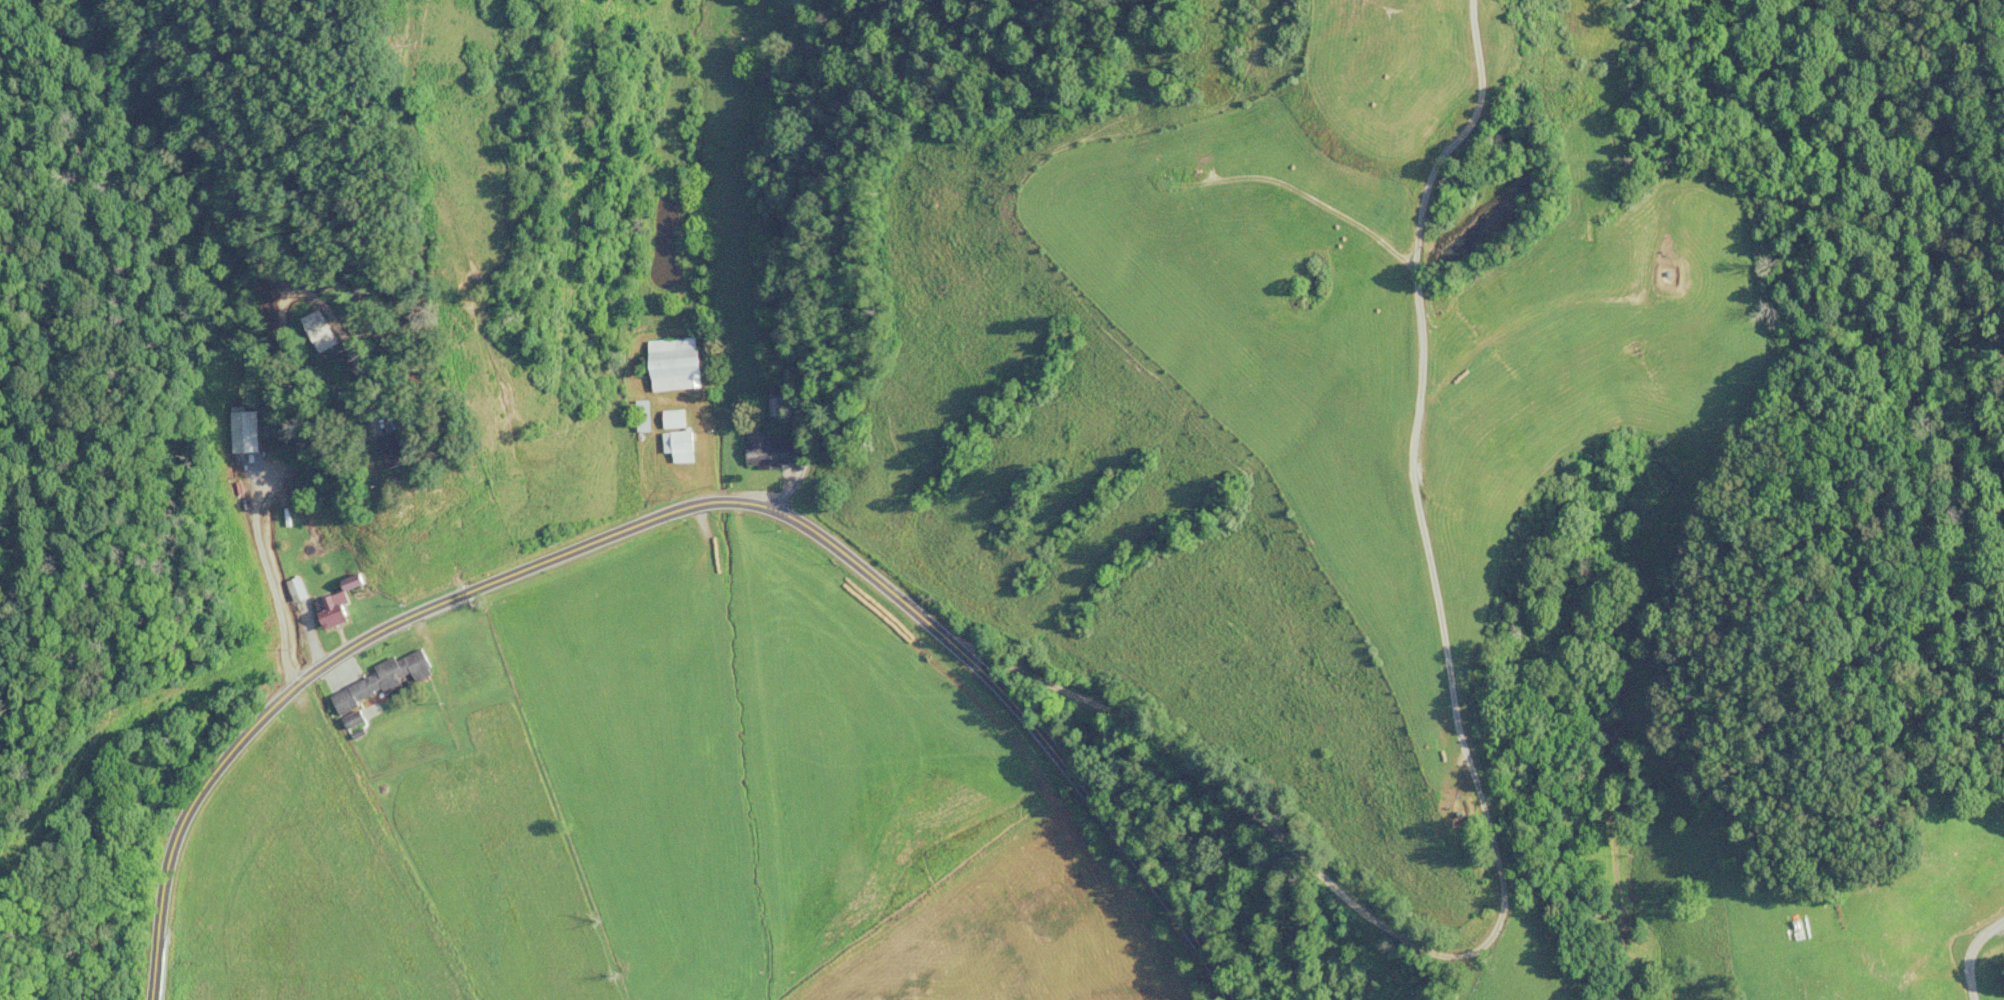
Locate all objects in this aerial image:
road: (761, 255)
building: (319, 331)
building: (677, 365)
building: (644, 417)
building: (248, 433)
building: (772, 450)
building: (405, 453)
road: (673, 510)
building: (295, 589)
building: (334, 612)
building: (383, 681)
road: (1466, 767)

